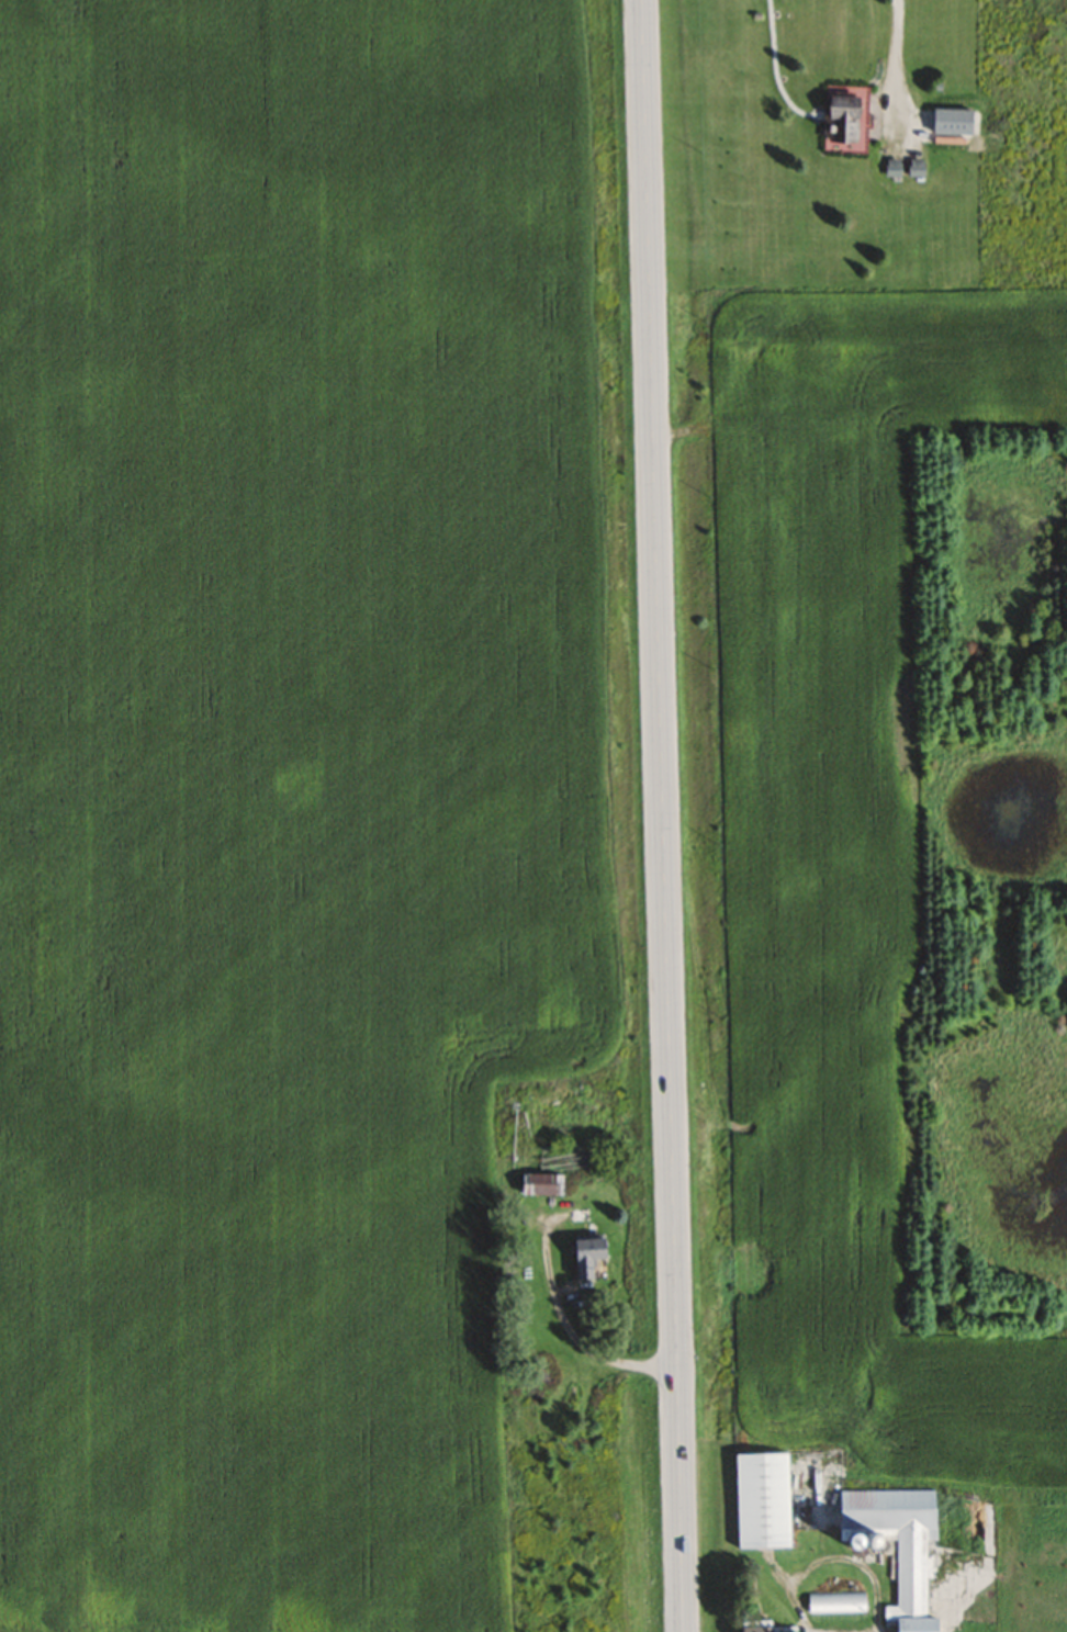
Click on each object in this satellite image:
building: (838, 121)
building: (892, 167)
building: (913, 167)
road: (662, 815)
building: (539, 1184)
building: (584, 1256)
building: (540, 1369)
building: (760, 1500)
building: (896, 1543)
building: (766, 1629)

